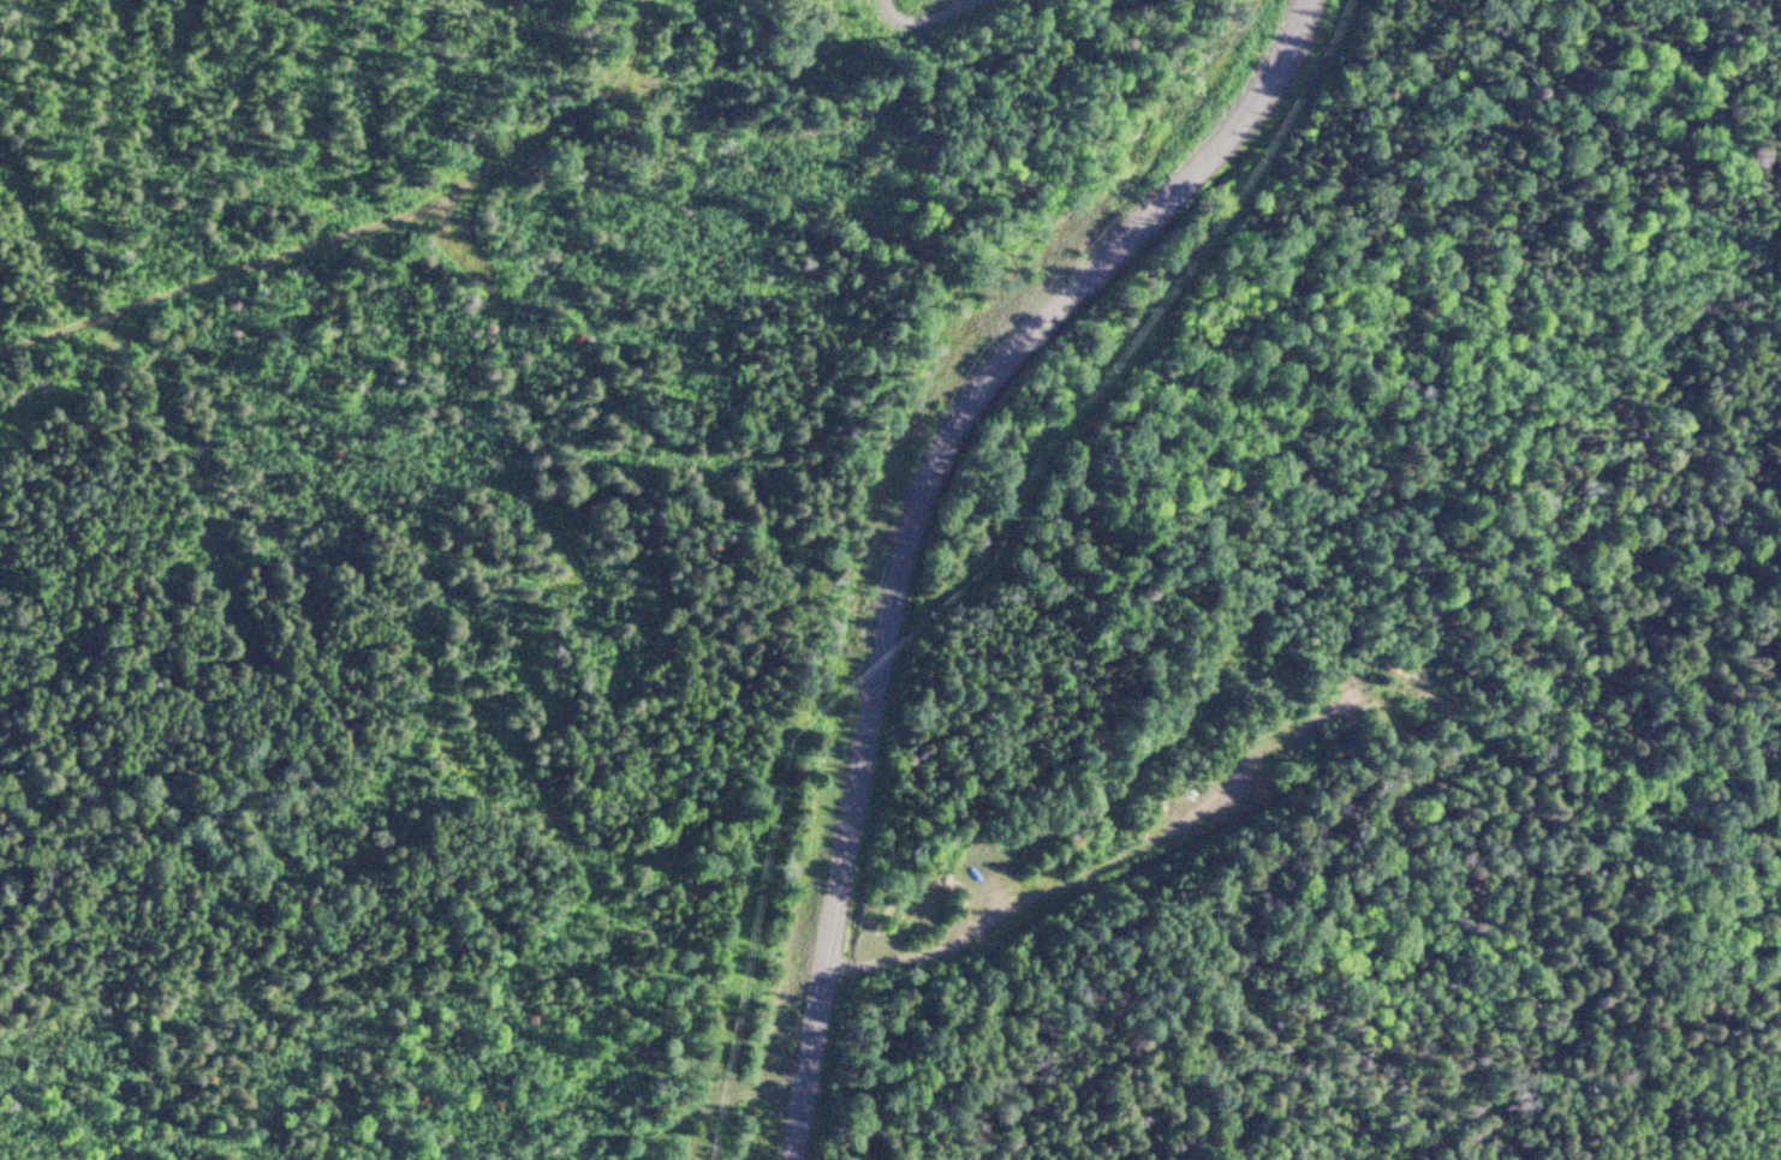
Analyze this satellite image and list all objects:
road: (929, 28)
road: (433, 201)
road: (921, 516)

